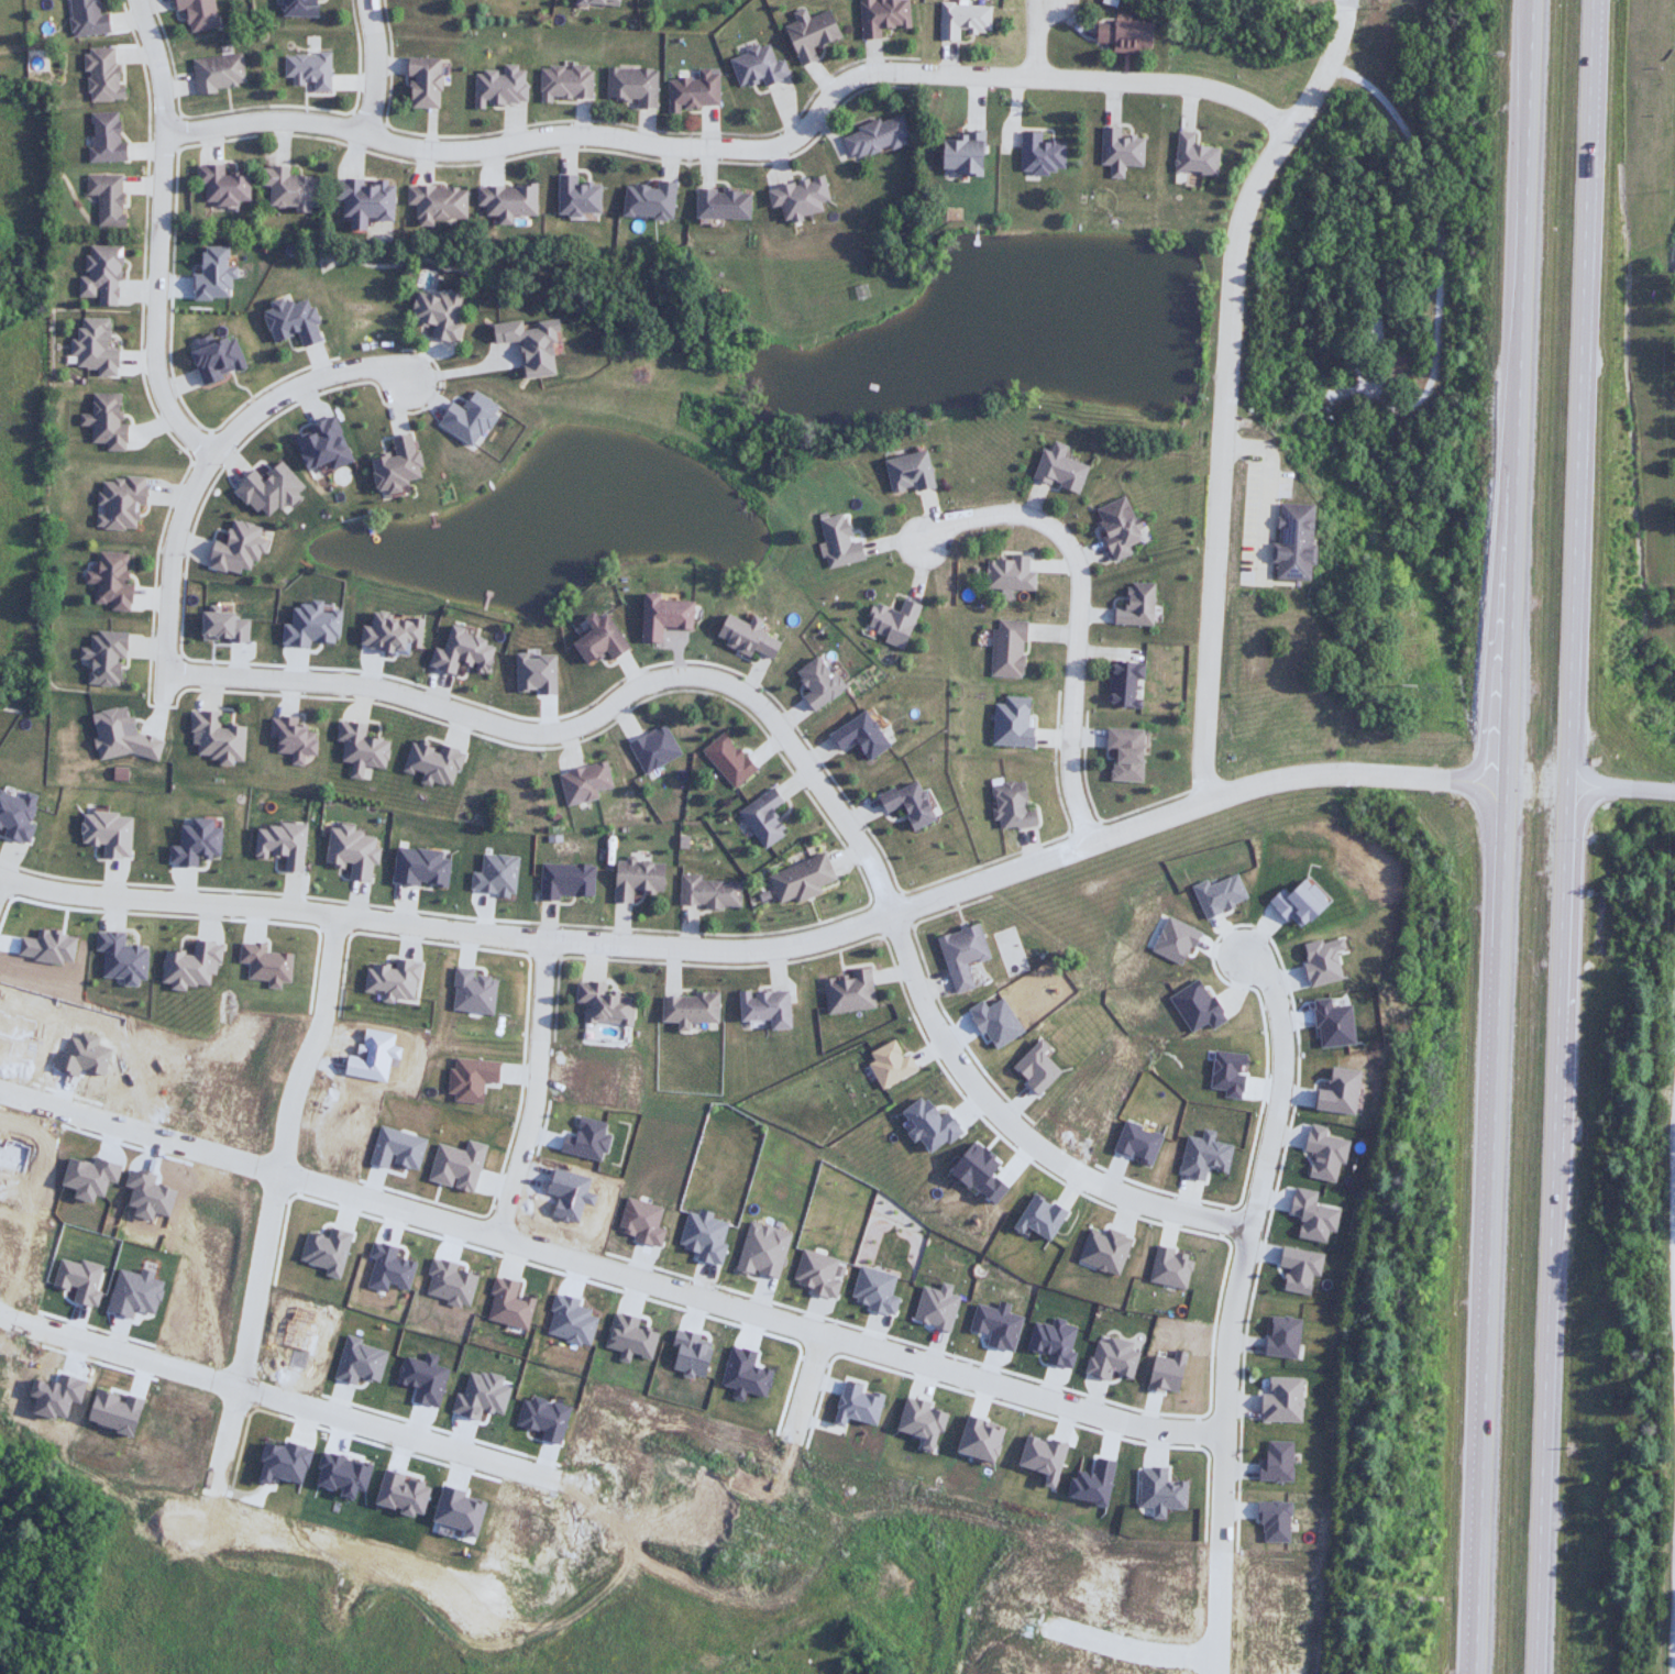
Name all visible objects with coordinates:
building: (594, 1)
building: (295, 8)
building: (195, 13)
building: (879, 15)
building: (84, 18)
building: (960, 19)
building: (807, 34)
building: (1121, 34)
building: (754, 66)
building: (306, 69)
road: (381, 70)
building: (216, 71)
building: (99, 74)
building: (562, 81)
building: (418, 82)
building: (630, 85)
building: (497, 86)
building: (692, 90)
building: (102, 136)
building: (871, 136)
road: (743, 152)
building: (1117, 152)
building: (958, 153)
building: (1038, 154)
building: (1192, 156)
building: (217, 185)
building: (286, 188)
building: (573, 196)
building: (103, 198)
building: (794, 198)
building: (359, 200)
building: (644, 200)
building: (503, 201)
building: (433, 202)
building: (718, 203)
road: (158, 235)
road: (1442, 246)
building: (433, 313)
building: (287, 321)
building: (524, 344)
building: (92, 345)
road: (1225, 386)
road: (1516, 390)
road: (1583, 393)
building: (101, 421)
building: (389, 464)
road: (205, 465)
building: (1056, 470)
building: (904, 473)
road: (1264, 484)
building: (117, 502)
building: (1114, 528)
building: (1289, 541)
building: (835, 542)
building: (1006, 573)
building: (108, 581)
building: (1134, 605)
building: (659, 616)
building: (889, 623)
road: (1083, 624)
building: (741, 637)
building: (595, 639)
building: (1005, 648)
building: (101, 658)
road: (12, 683)
building: (814, 683)
building: (1122, 685)
building: (1010, 722)
building: (855, 736)
building: (294, 737)
building: (651, 748)
building: (1121, 753)
road: (801, 755)
building: (725, 760)
building: (582, 782)
road: (1622, 789)
building: (912, 801)
building: (1013, 804)
building: (765, 816)
building: (639, 875)
building: (802, 878)
building: (569, 879)
road: (4, 890)
building: (710, 891)
road: (762, 950)
building: (965, 954)
building: (850, 991)
building: (606, 1003)
building: (768, 1005)
building: (692, 1007)
road: (533, 1088)
road: (273, 1200)
road: (1671, 1204)
road: (1486, 1227)
road: (1555, 1230)
road: (607, 1268)
road: (1236, 1310)
road: (806, 1384)
road: (274, 1395)
road: (1131, 1645)
road: (1674, 1654)
building: (869, 1666)

